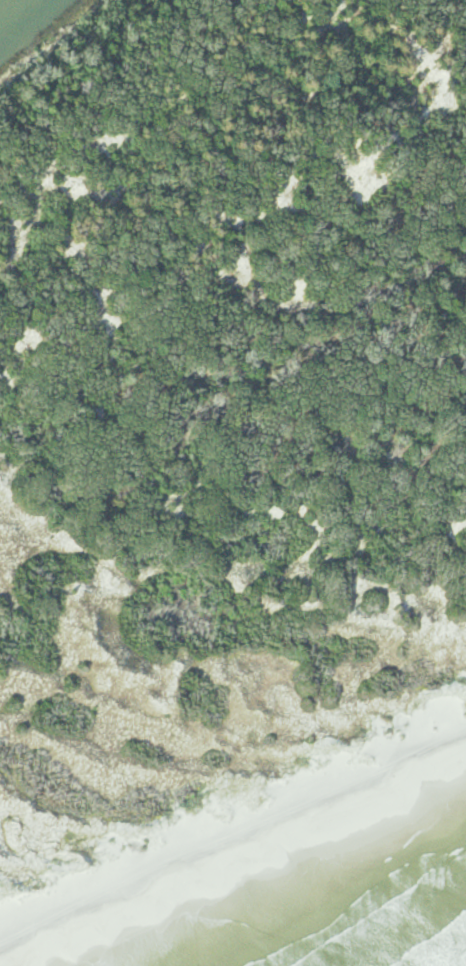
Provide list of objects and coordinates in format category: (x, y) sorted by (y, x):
park: (228, 465)

